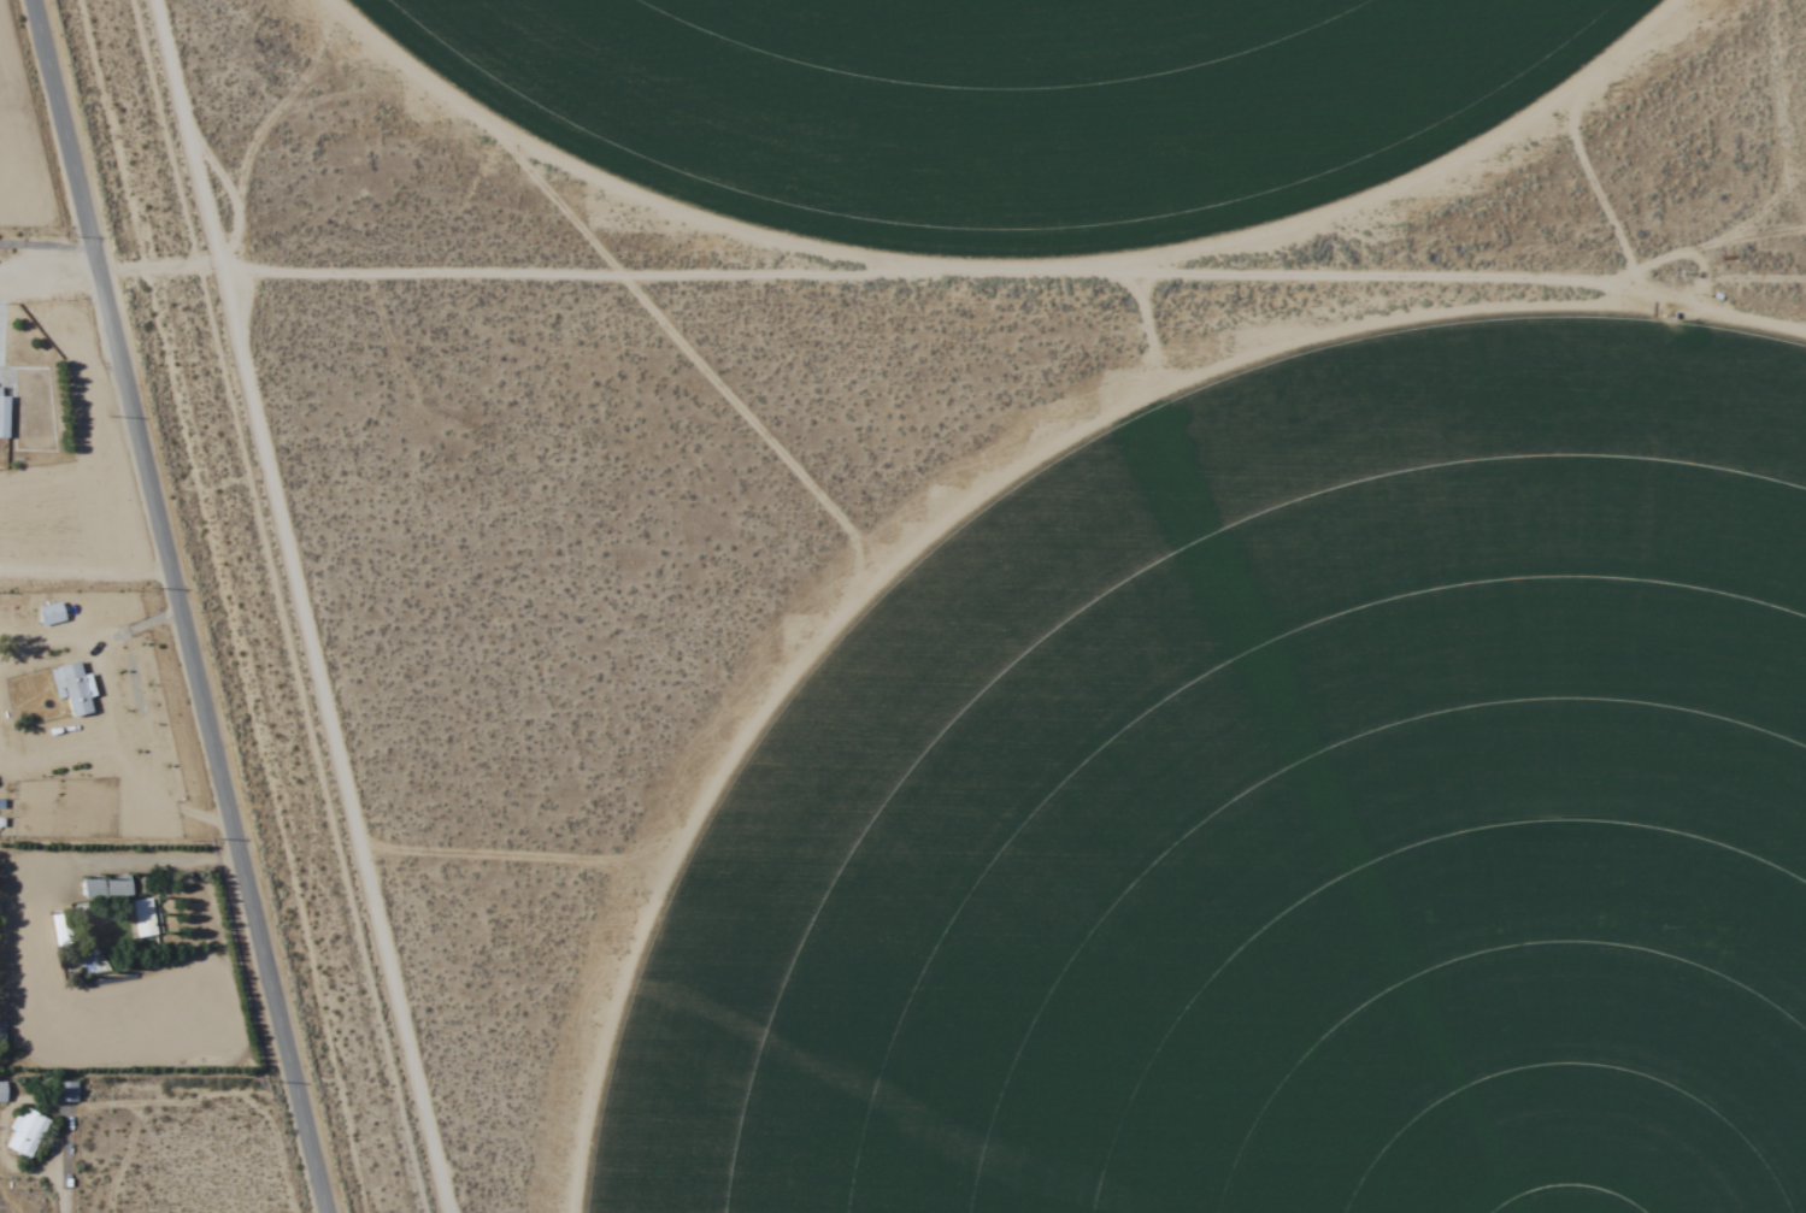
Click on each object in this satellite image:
crop: (984, 104)
road: (51, 281)
building: (5, 412)
road: (181, 606)
building: (51, 614)
building: (72, 688)
crop: (1269, 811)
building: (107, 888)
building: (146, 918)
building: (61, 929)
building: (66, 1090)
building: (2, 1091)
building: (27, 1132)

